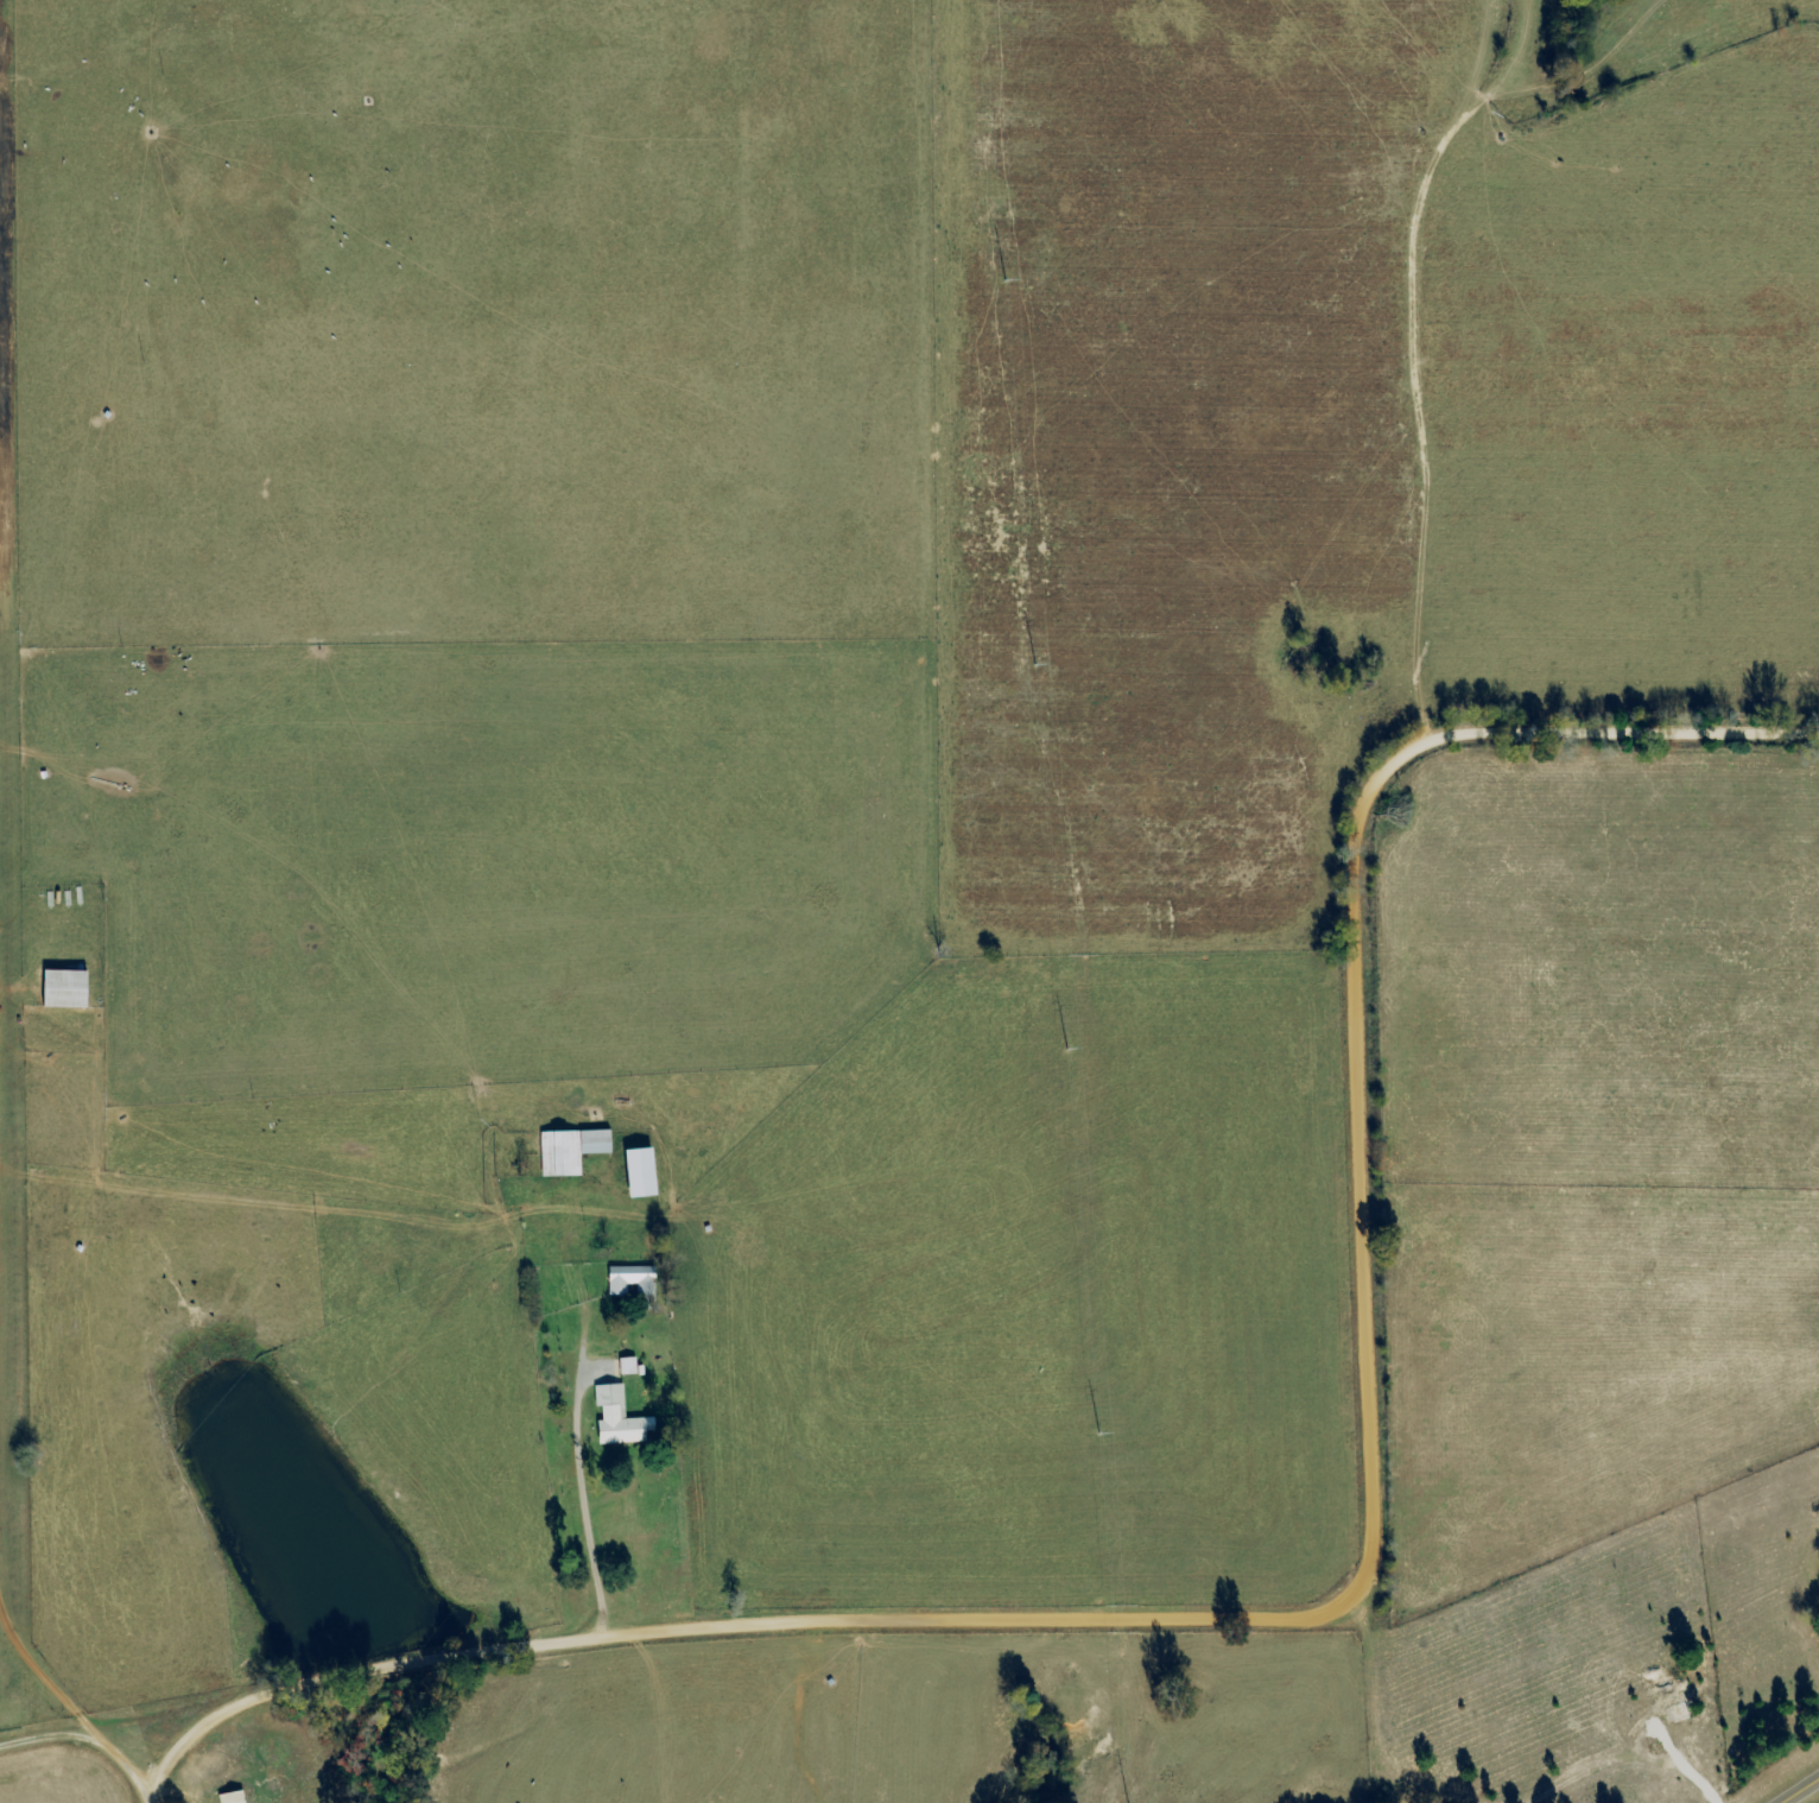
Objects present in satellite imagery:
building: (62, 989)
building: (568, 1150)
building: (636, 1173)
building: (626, 1279)
building: (626, 1367)
building: (615, 1418)
road: (1356, 1582)
road: (66, 1703)
building: (1678, 1714)
road: (1799, 1790)
road: (142, 1797)
building: (230, 1797)

